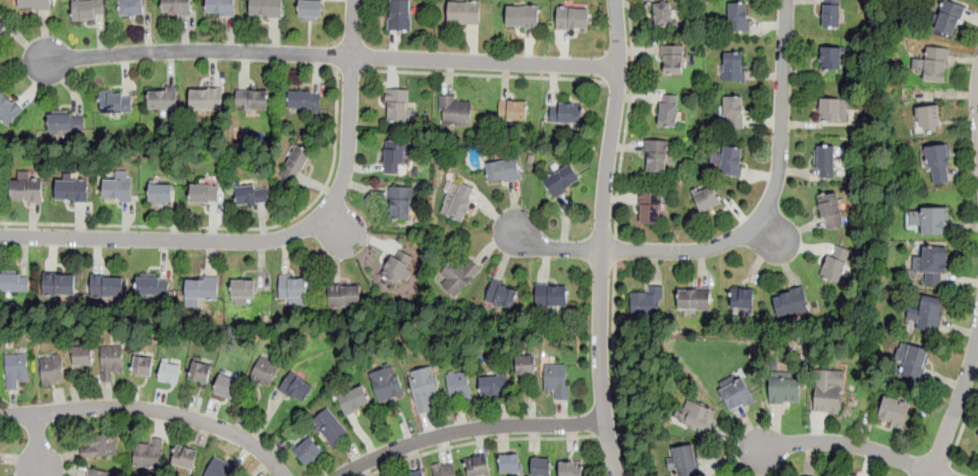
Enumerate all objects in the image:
building: (34, 4)
building: (132, 7)
building: (176, 7)
building: (220, 7)
building: (266, 8)
building: (87, 9)
building: (310, 10)
building: (464, 11)
building: (400, 14)
building: (663, 14)
building: (831, 14)
building: (523, 16)
building: (738, 16)
building: (573, 17)
building: (948, 17)
building: (2, 26)
road: (353, 28)
road: (632, 48)
road: (332, 56)
building: (830, 58)
building: (672, 59)
building: (936, 64)
building: (733, 65)
road: (349, 69)
road: (486, 74)
road: (618, 89)
building: (162, 98)
building: (206, 98)
building: (253, 99)
building: (303, 99)
building: (116, 101)
building: (397, 104)
building: (8, 108)
building: (829, 108)
building: (513, 109)
building: (455, 110)
building: (668, 110)
building: (565, 112)
building: (733, 112)
building: (479, 116)
building: (928, 118)
building: (65, 120)
building: (656, 155)
building: (394, 157)
building: (730, 160)
building: (825, 161)
building: (295, 163)
building: (938, 163)
road: (619, 166)
building: (502, 170)
building: (561, 180)
building: (117, 187)
building: (26, 188)
building: (72, 190)
building: (204, 193)
building: (252, 193)
building: (160, 194)
building: (707, 198)
building: (460, 201)
building: (400, 202)
building: (650, 207)
building: (831, 210)
building: (930, 219)
road: (232, 227)
road: (747, 234)
road: (603, 238)
road: (247, 241)
road: (615, 250)
building: (835, 262)
building: (398, 265)
building: (932, 265)
building: (457, 275)
building: (14, 282)
building: (59, 283)
building: (149, 283)
building: (106, 284)
building: (202, 287)
building: (293, 289)
building: (243, 291)
building: (501, 294)
building: (552, 295)
building: (344, 296)
building: (694, 298)
building: (743, 298)
building: (647, 301)
building: (791, 301)
building: (927, 310)
building: (83, 355)
building: (912, 359)
building: (111, 361)
building: (525, 364)
building: (143, 365)
building: (16, 369)
building: (52, 370)
building: (265, 370)
road: (613, 370)
building: (170, 372)
building: (200, 372)
building: (556, 379)
building: (387, 384)
building: (458, 384)
building: (494, 385)
building: (225, 386)
building: (297, 387)
building: (424, 388)
building: (786, 392)
building: (826, 392)
building: (736, 395)
building: (354, 399)
road: (151, 409)
road: (956, 410)
building: (893, 412)
building: (698, 418)
road: (964, 422)
building: (329, 427)
road: (470, 429)
road: (609, 433)
building: (977, 436)
road: (479, 440)
road: (38, 443)
road: (850, 444)
building: (100, 446)
building: (307, 451)
building: (148, 453)
building: (184, 457)
building: (686, 461)
building: (509, 462)
building: (478, 465)
building: (541, 466)
building: (219, 467)
building: (570, 468)
building: (444, 469)
road: (948, 470)
building: (98, 472)
building: (415, 473)
building: (847, 475)

